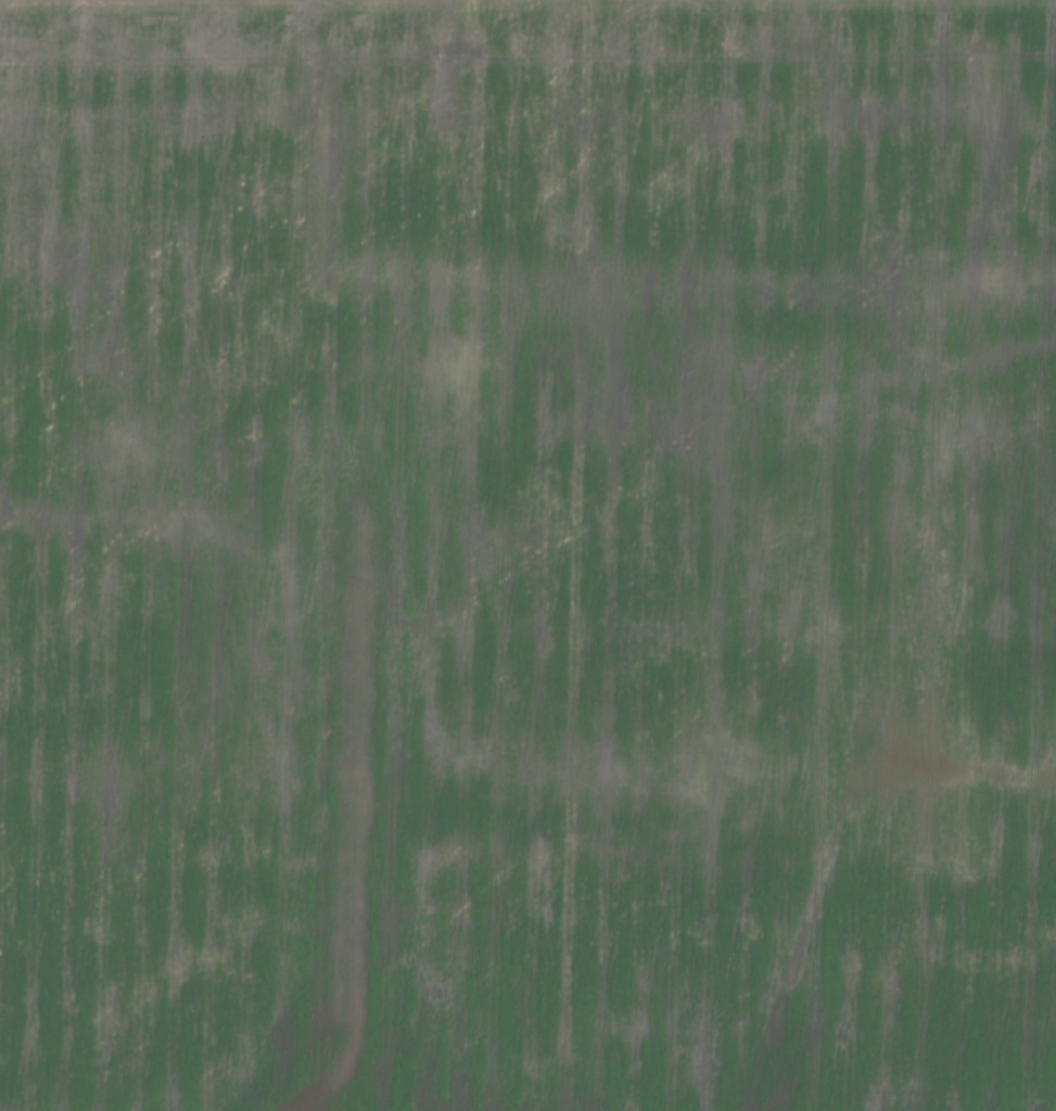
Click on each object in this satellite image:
crop: (527, 555)

